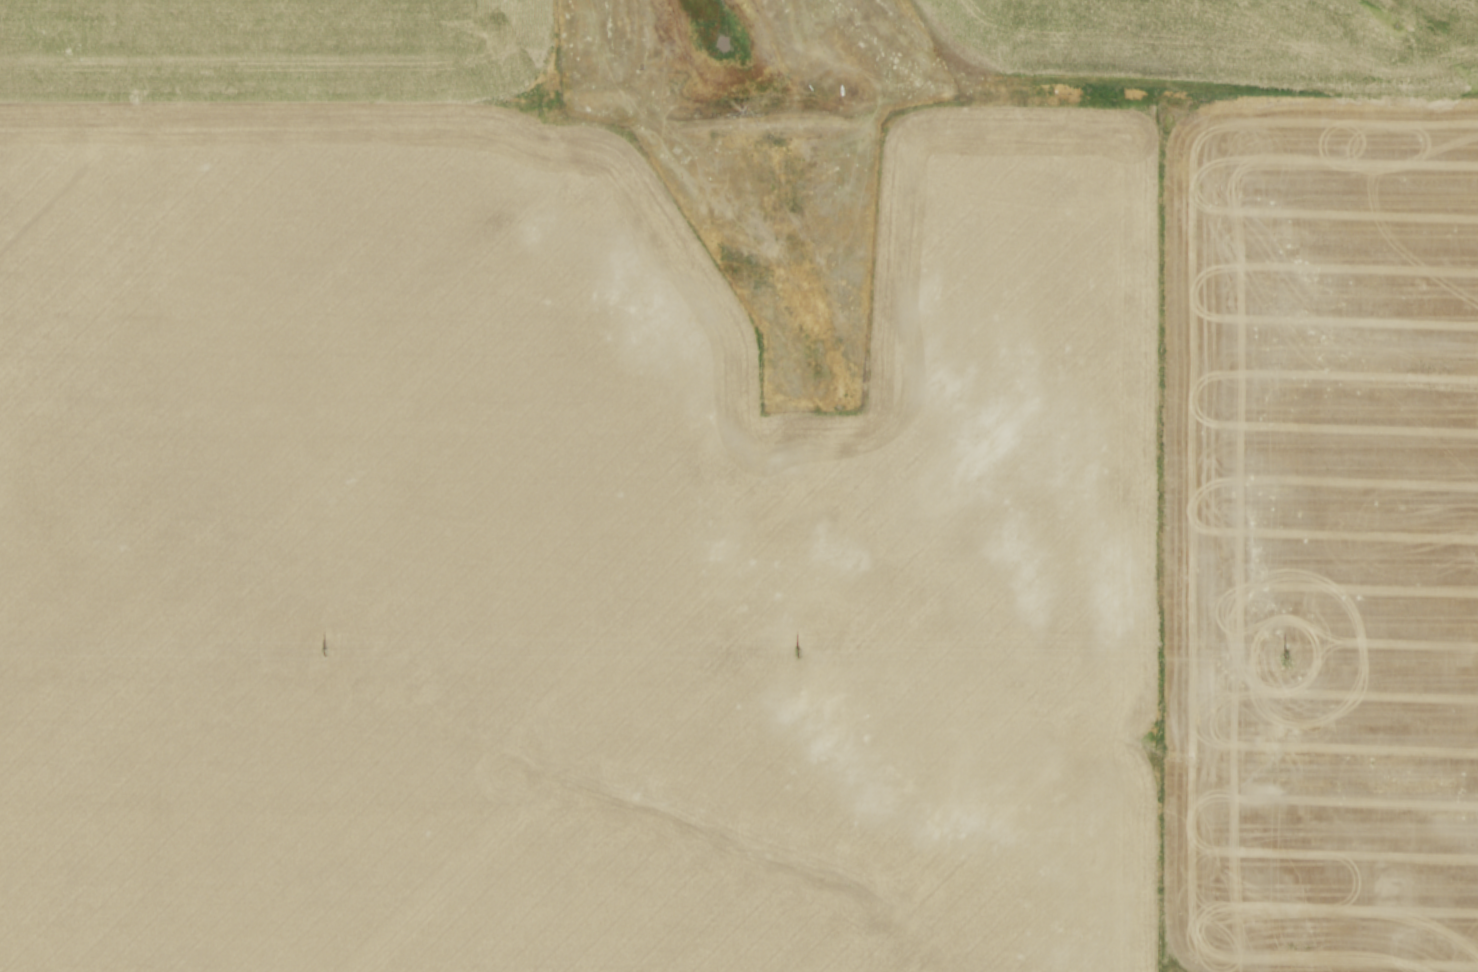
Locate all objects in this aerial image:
crop: (1221, 38)
dam: (774, 122)
crop: (715, 529)
power tower: (326, 652)
power tower: (798, 653)
power tower: (1285, 653)

